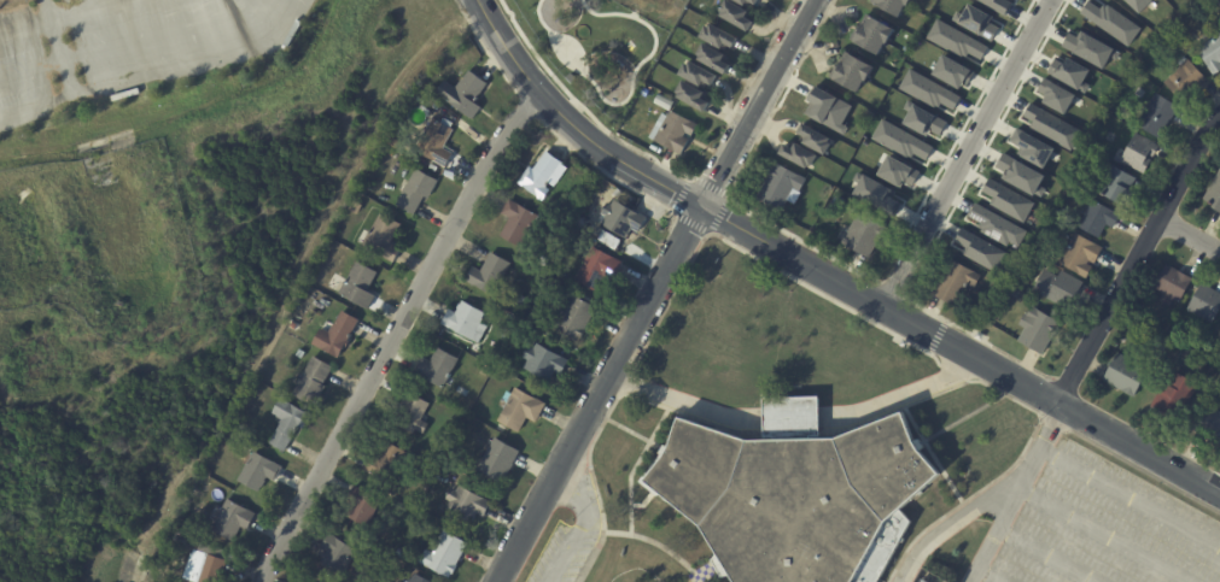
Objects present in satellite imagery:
building: (748, 1)
building: (1139, 4)
building: (997, 5)
building: (894, 6)
building: (739, 14)
road: (63, 18)
building: (975, 22)
building: (1110, 22)
building: (719, 36)
building: (875, 36)
building: (955, 40)
road: (127, 43)
road: (62, 48)
building: (1090, 48)
road: (486, 49)
building: (1213, 53)
road: (763, 54)
building: (714, 58)
building: (952, 71)
road: (159, 72)
building: (854, 72)
building: (1069, 72)
building: (699, 75)
building: (1187, 80)
building: (927, 90)
building: (465, 94)
building: (694, 95)
building: (1055, 95)
building: (665, 102)
road: (755, 102)
road: (578, 105)
road: (527, 108)
building: (827, 108)
road: (970, 112)
building: (1158, 116)
building: (922, 119)
road: (568, 122)
building: (1051, 127)
building: (396, 131)
building: (676, 133)
building: (817, 137)
building: (433, 141)
building: (900, 141)
building: (1031, 147)
road: (964, 152)
building: (1142, 152)
building: (800, 154)
building: (426, 161)
road: (600, 170)
building: (897, 171)
road: (739, 174)
building: (543, 175)
building: (1020, 175)
road: (689, 177)
building: (783, 184)
building: (1120, 184)
building: (418, 190)
building: (875, 194)
building: (1214, 194)
building: (1006, 200)
building: (839, 201)
building: (356, 207)
building: (623, 218)
building: (1102, 219)
road: (944, 222)
building: (520, 223)
building: (996, 225)
building: (866, 233)
road: (1189, 235)
building: (384, 237)
building: (608, 239)
building: (980, 249)
road: (745, 251)
building: (1082, 254)
road: (1136, 257)
building: (597, 269)
building: (491, 274)
building: (956, 282)
building: (558, 283)
building: (1174, 283)
building: (361, 286)
building: (1058, 287)
road: (891, 290)
building: (1207, 302)
building: (537, 317)
building: (573, 318)
building: (467, 321)
building: (292, 328)
building: (509, 328)
building: (1040, 330)
road: (393, 333)
building: (1219, 334)
building: (337, 335)
road: (935, 336)
building: (981, 336)
building: (1162, 343)
road: (959, 348)
building: (1178, 352)
building: (302, 353)
building: (545, 361)
building: (439, 368)
road: (953, 372)
building: (1128, 374)
building: (314, 381)
road: (629, 383)
road: (597, 393)
road: (1043, 394)
building: (1178, 395)
building: (520, 410)
building: (413, 413)
road: (795, 417)
road: (959, 419)
building: (288, 423)
building: (1212, 424)
road: (1050, 425)
road: (848, 429)
road: (635, 435)
road: (792, 436)
road: (933, 454)
building: (500, 459)
building: (389, 462)
road: (634, 468)
road: (1142, 470)
building: (259, 471)
building: (426, 481)
building: (205, 488)
road: (1016, 493)
road: (1129, 498)
building: (796, 499)
road: (644, 500)
building: (467, 504)
building: (363, 505)
building: (233, 519)
road: (582, 522)
road: (950, 523)
parking lot: (1104, 529)
road: (1104, 535)
road: (992, 540)
road: (656, 543)
building: (445, 554)
building: (338, 555)
road: (1045, 555)
building: (719, 566)
building: (209, 569)
building: (372, 570)
road: (711, 570)
road: (988, 575)
building: (418, 578)

